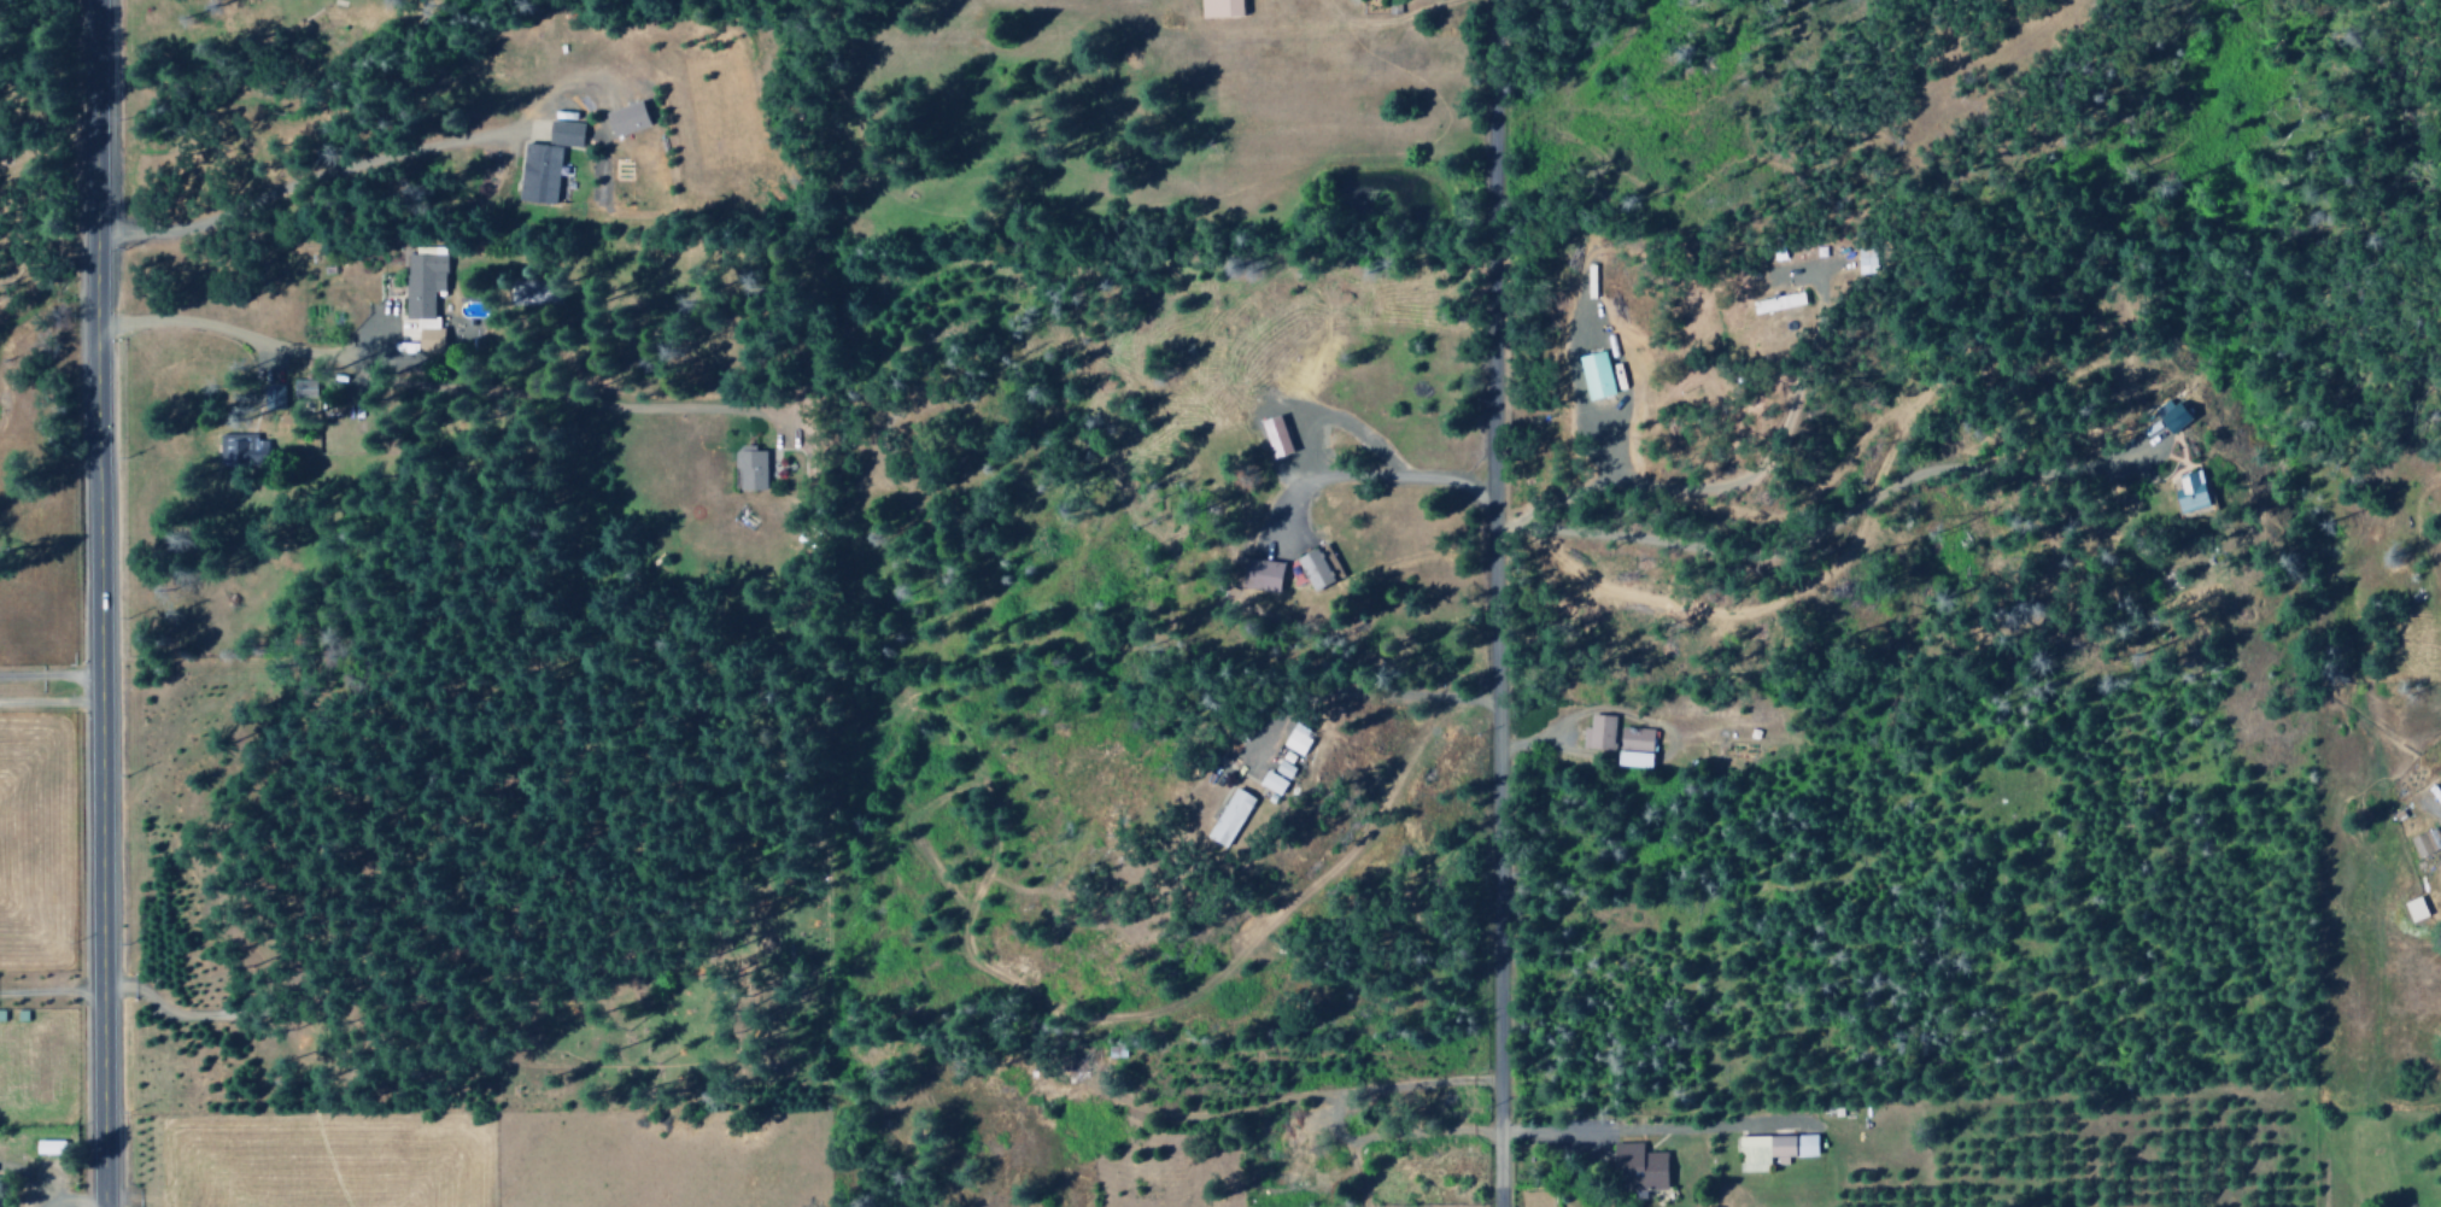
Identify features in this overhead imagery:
building: (1222, 7)
building: (628, 118)
building: (566, 133)
building: (539, 172)
building: (1866, 259)
building: (1784, 287)
building: (1779, 303)
building: (1598, 375)
road: (439, 387)
building: (304, 388)
building: (2173, 415)
building: (1278, 436)
building: (242, 449)
building: (753, 468)
building: (2193, 492)
road: (1539, 506)
road: (1821, 532)
building: (1318, 572)
building: (1264, 574)
road: (96, 603)
road: (1493, 603)
road: (48, 675)
road: (49, 703)
building: (1599, 733)
building: (1637, 739)
building: (1304, 744)
building: (1637, 760)
building: (1294, 771)
building: (1282, 784)
road: (2434, 808)
building: (1240, 819)
building: (2427, 843)
building: (2417, 909)
building: (1313, 1118)
road: (1650, 1126)
building: (49, 1148)
building: (1775, 1149)
building: (1641, 1168)
building: (1296, 1172)

